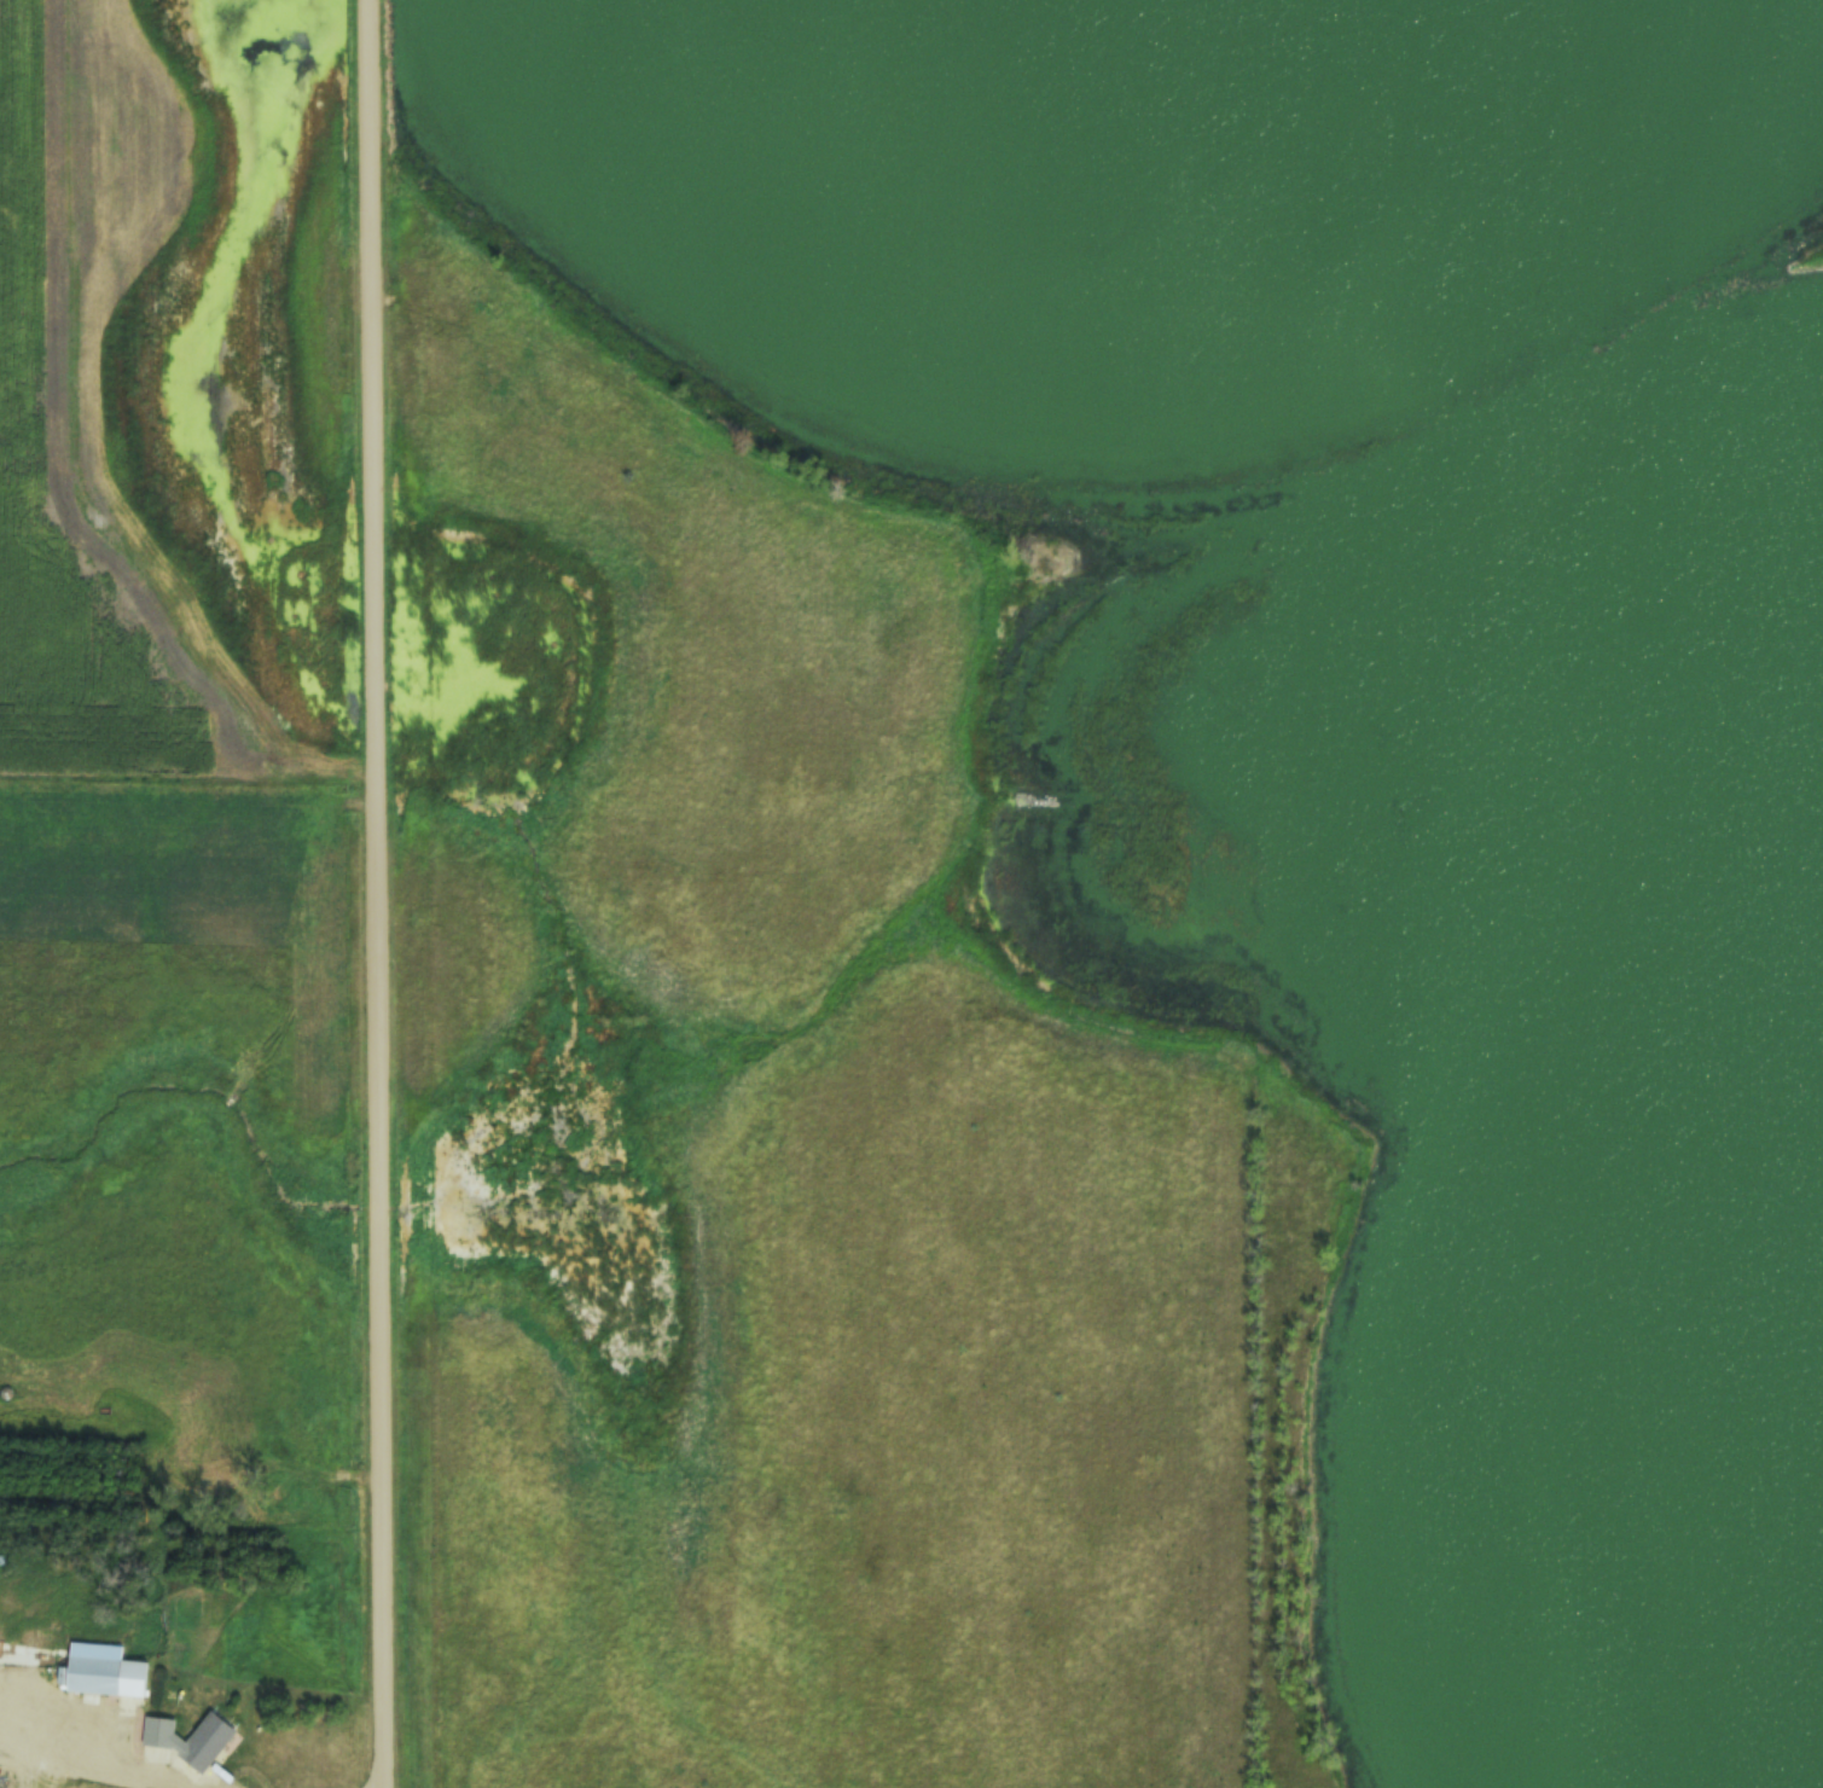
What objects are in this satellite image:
road: (381, 894)
building: (110, 1680)
building: (207, 1743)
road: (99, 1776)

